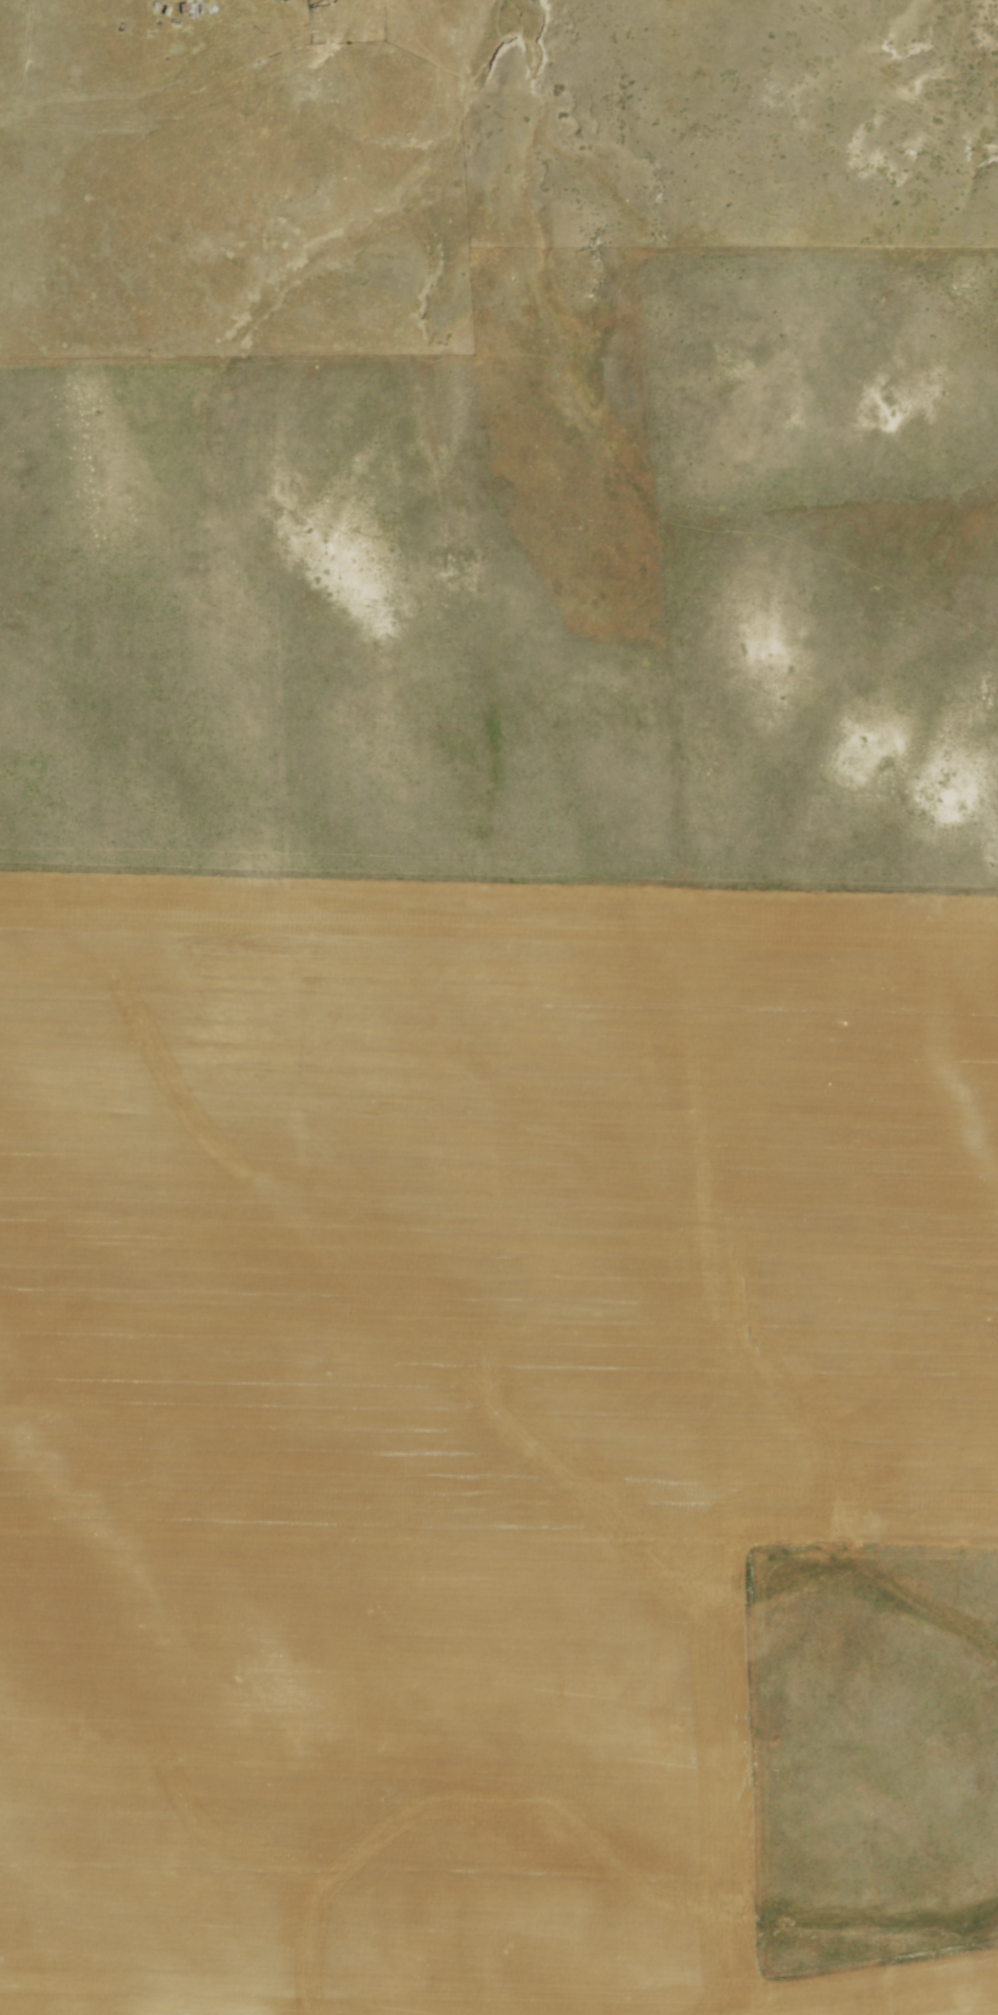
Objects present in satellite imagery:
building: (186, 4)
crop: (458, 1416)

